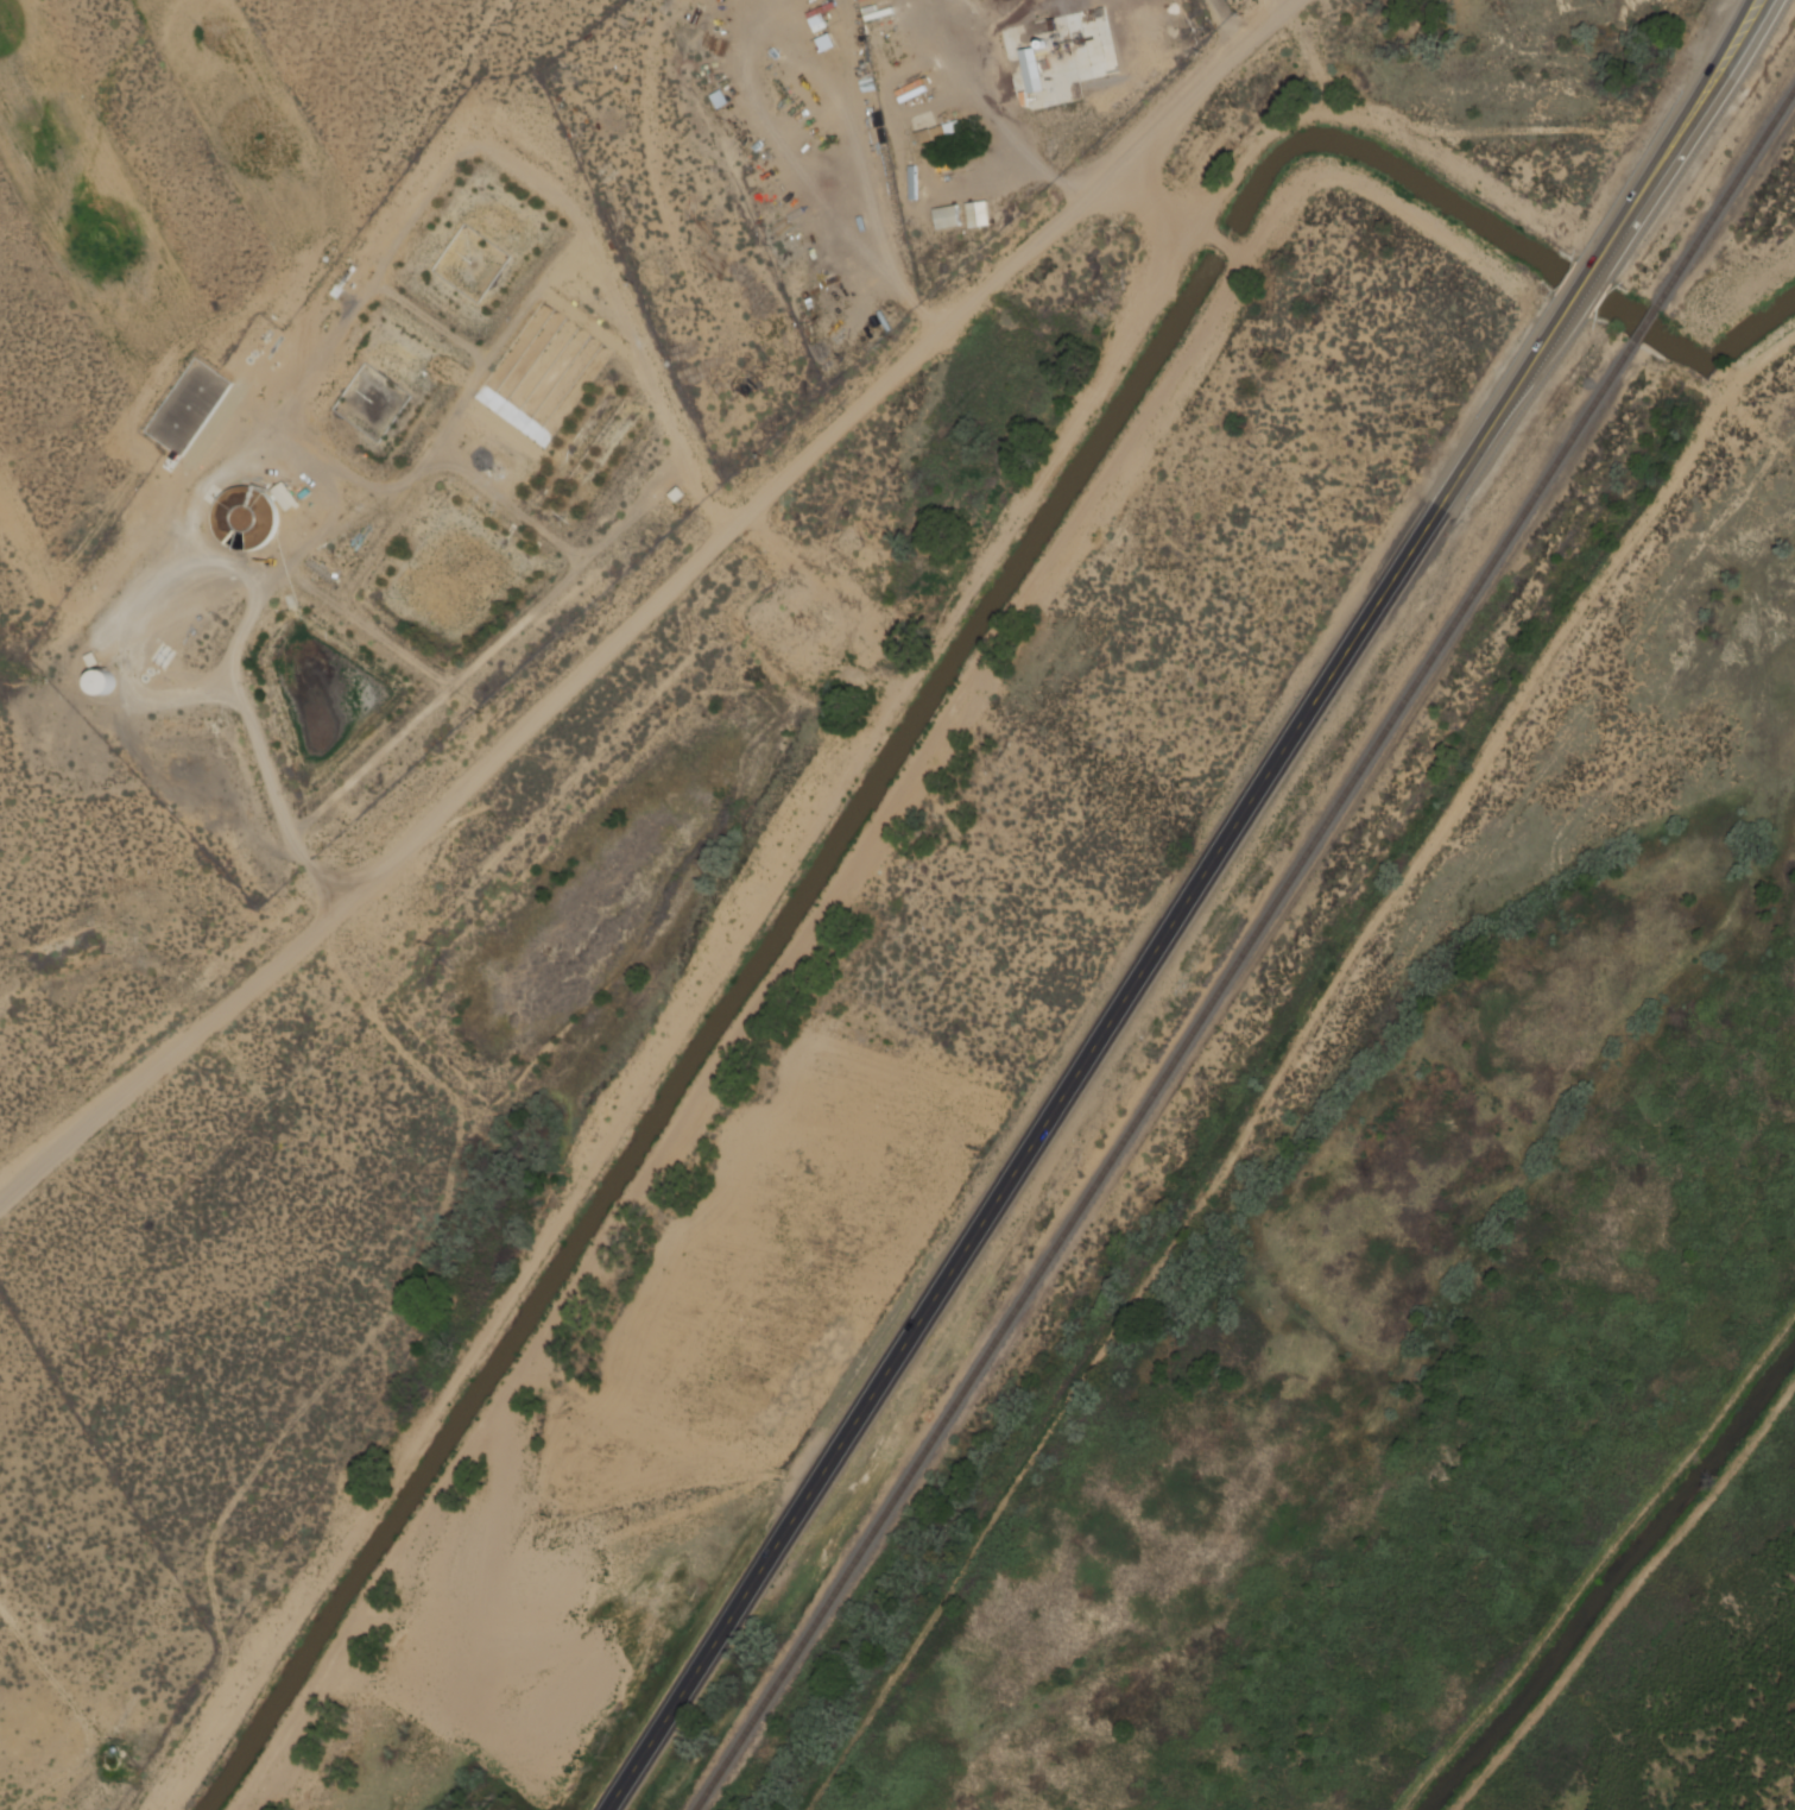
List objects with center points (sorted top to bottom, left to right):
building: (1032, 69)
road: (1679, 118)
railway: (1726, 196)
building: (978, 214)
building: (947, 216)
road: (1573, 296)
railway: (1644, 323)
building: (285, 497)
building: (235, 512)
road: (641, 591)
building: (102, 682)
railway: (1162, 1077)
road: (1072, 1083)

